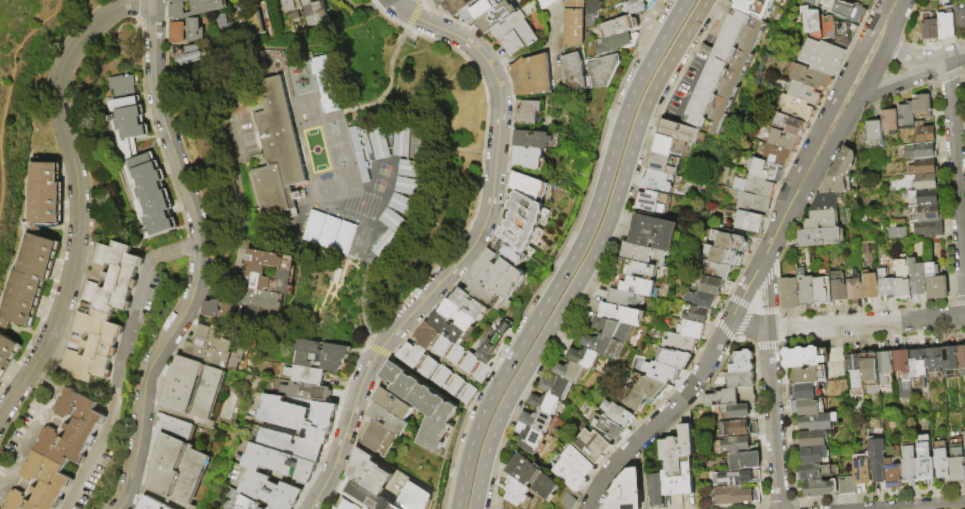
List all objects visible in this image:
building: (344, 0)
building: (353, 0)
building: (635, 0)
building: (179, 1)
building: (810, 1)
building: (944, 1)
building: (442, 2)
road: (401, 3)
building: (295, 5)
road: (363, 5)
building: (459, 6)
building: (641, 6)
building: (754, 7)
building: (198, 9)
road: (40, 10)
building: (481, 10)
building: (847, 11)
building: (594, 12)
building: (317, 14)
building: (499, 16)
building: (960, 18)
road: (897, 20)
road: (409, 23)
building: (576, 24)
building: (945, 25)
building: (624, 26)
building: (826, 28)
building: (234, 29)
building: (196, 31)
building: (272, 31)
building: (929, 31)
building: (519, 32)
building: (179, 33)
road: (268, 42)
road: (556, 43)
building: (618, 43)
road: (13, 53)
building: (192, 56)
road: (524, 56)
building: (821, 56)
road: (948, 60)
road: (905, 61)
road: (873, 70)
building: (724, 71)
building: (589, 72)
building: (534, 76)
building: (810, 77)
road: (894, 82)
building: (325, 83)
road: (251, 90)
building: (803, 93)
park: (24, 96)
building: (921, 105)
road: (830, 106)
building: (796, 109)
building: (128, 110)
building: (531, 113)
road: (222, 117)
building: (905, 118)
building: (889, 121)
building: (789, 125)
building: (679, 132)
building: (924, 132)
building: (340, 134)
building: (874, 134)
parking lot: (240, 135)
road: (233, 139)
building: (534, 140)
building: (782, 140)
building: (405, 142)
building: (382, 144)
building: (672, 146)
building: (923, 151)
building: (279, 154)
building: (775, 155)
building: (362, 156)
road: (957, 157)
building: (530, 159)
building: (662, 162)
road: (826, 162)
building: (348, 166)
building: (924, 167)
building: (764, 169)
building: (414, 170)
building: (840, 173)
road: (1, 176)
building: (657, 181)
building: (925, 182)
building: (754, 186)
building: (531, 187)
building: (411, 188)
building: (47, 196)
building: (922, 197)
road: (77, 198)
building: (155, 198)
building: (653, 202)
building: (749, 202)
building: (825, 202)
building: (406, 206)
building: (924, 213)
building: (823, 220)
building: (748, 221)
building: (397, 222)
building: (526, 223)
building: (928, 228)
building: (313, 229)
road: (242, 231)
building: (652, 232)
building: (895, 232)
building: (821, 237)
road: (776, 238)
building: (729, 241)
building: (337, 244)
building: (389, 245)
road: (473, 247)
building: (513, 254)
building: (643, 254)
road: (573, 255)
road: (593, 256)
building: (722, 256)
road: (199, 260)
building: (636, 268)
building: (713, 269)
building: (256, 274)
building: (502, 276)
building: (917, 277)
building: (115, 278)
building: (902, 279)
building: (31, 280)
building: (935, 282)
building: (869, 284)
building: (885, 284)
building: (635, 285)
building: (710, 285)
building: (837, 286)
building: (853, 286)
building: (804, 289)
building: (822, 290)
road: (749, 292)
building: (788, 293)
building: (490, 296)
road: (767, 296)
building: (625, 298)
building: (263, 299)
building: (701, 299)
road: (367, 303)
building: (473, 305)
building: (214, 309)
building: (697, 313)
building: (621, 314)
building: (251, 315)
building: (461, 316)
road: (131, 322)
road: (866, 324)
road: (749, 327)
building: (452, 329)
building: (614, 329)
building: (690, 329)
building: (680, 342)
building: (496, 344)
building: (95, 345)
building: (603, 345)
building: (213, 347)
building: (454, 353)
building: (8, 354)
building: (324, 355)
building: (673, 357)
building: (804, 357)
building: (584, 358)
building: (933, 359)
building: (948, 359)
building: (961, 359)
building: (741, 362)
building: (884, 367)
building: (917, 367)
building: (869, 369)
building: (570, 372)
building: (665, 372)
building: (438, 373)
building: (854, 373)
building: (902, 374)
building: (808, 375)
building: (307, 376)
road: (44, 379)
building: (739, 380)
building: (556, 386)
building: (651, 387)
building: (806, 391)
building: (195, 392)
building: (303, 392)
building: (730, 396)
building: (634, 399)
building: (395, 404)
building: (547, 404)
building: (424, 405)
building: (809, 407)
building: (734, 411)
building: (616, 413)
building: (300, 416)
building: (390, 419)
road: (665, 419)
road: (773, 420)
building: (539, 421)
building: (816, 422)
building: (607, 427)
building: (177, 428)
building: (737, 428)
building: (74, 430)
building: (529, 438)
building: (380, 439)
building: (812, 439)
building: (964, 440)
road: (29, 442)
building: (291, 445)
building: (591, 445)
building: (732, 445)
building: (812, 455)
building: (924, 459)
building: (876, 460)
building: (940, 460)
building: (577, 461)
building: (744, 461)
building: (956, 461)
building: (282, 464)
building: (678, 464)
building: (908, 464)
building: (893, 470)
building: (179, 471)
building: (816, 471)
building: (861, 471)
road: (86, 473)
building: (372, 473)
building: (568, 475)
building: (532, 476)
building: (733, 478)
building: (43, 485)
building: (846, 486)
building: (817, 488)
building: (271, 491)
building: (516, 491)
building: (654, 491)
building: (626, 492)
building: (732, 495)
building: (369, 497)
building: (417, 498)
building: (565, 498)
building: (245, 503)
building: (351, 503)
building: (152, 504)
road: (943, 507)
building: (171, 508)
building: (338, 508)

